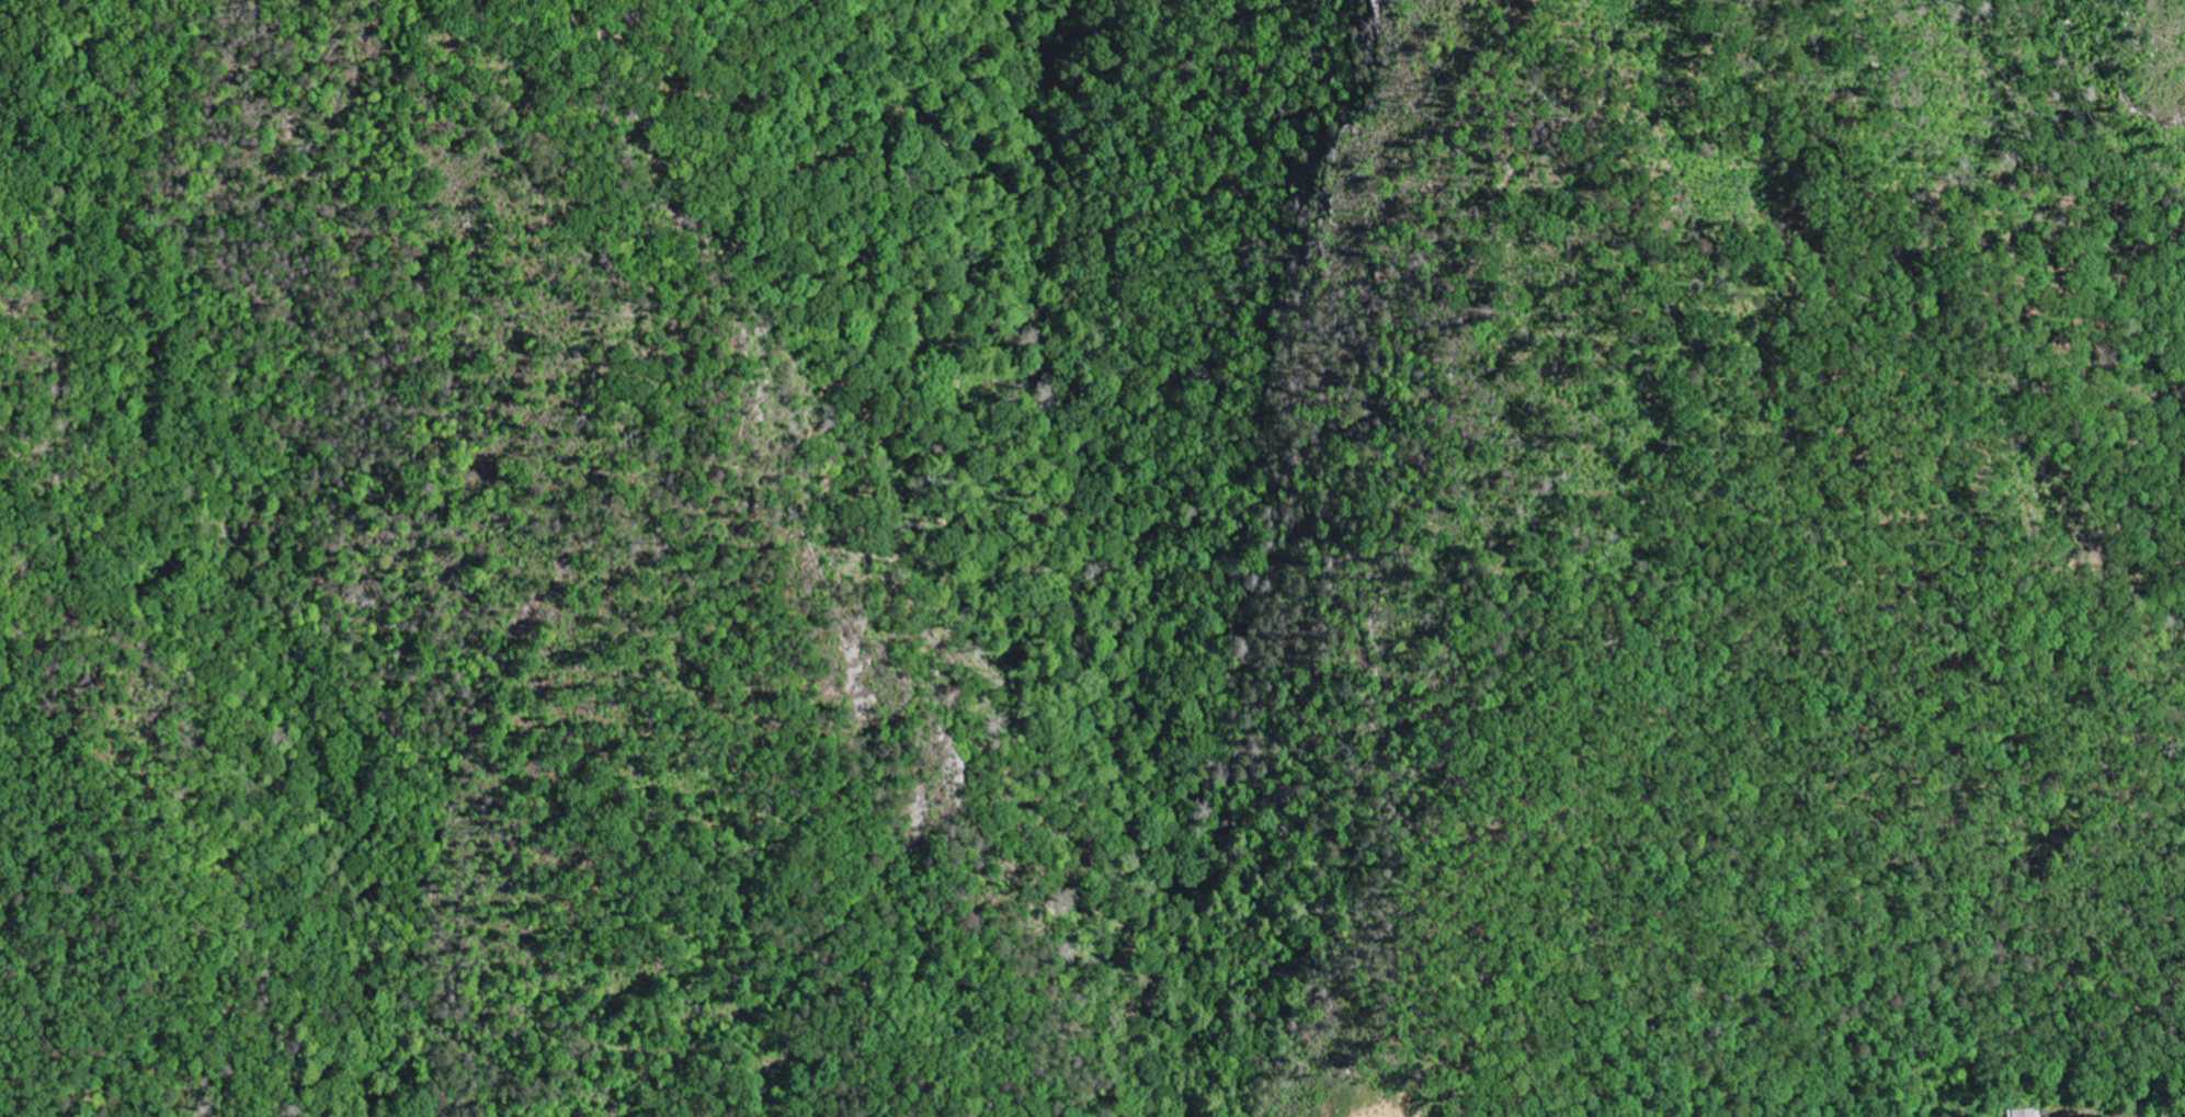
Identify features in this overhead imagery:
building: (2023, 1113)

